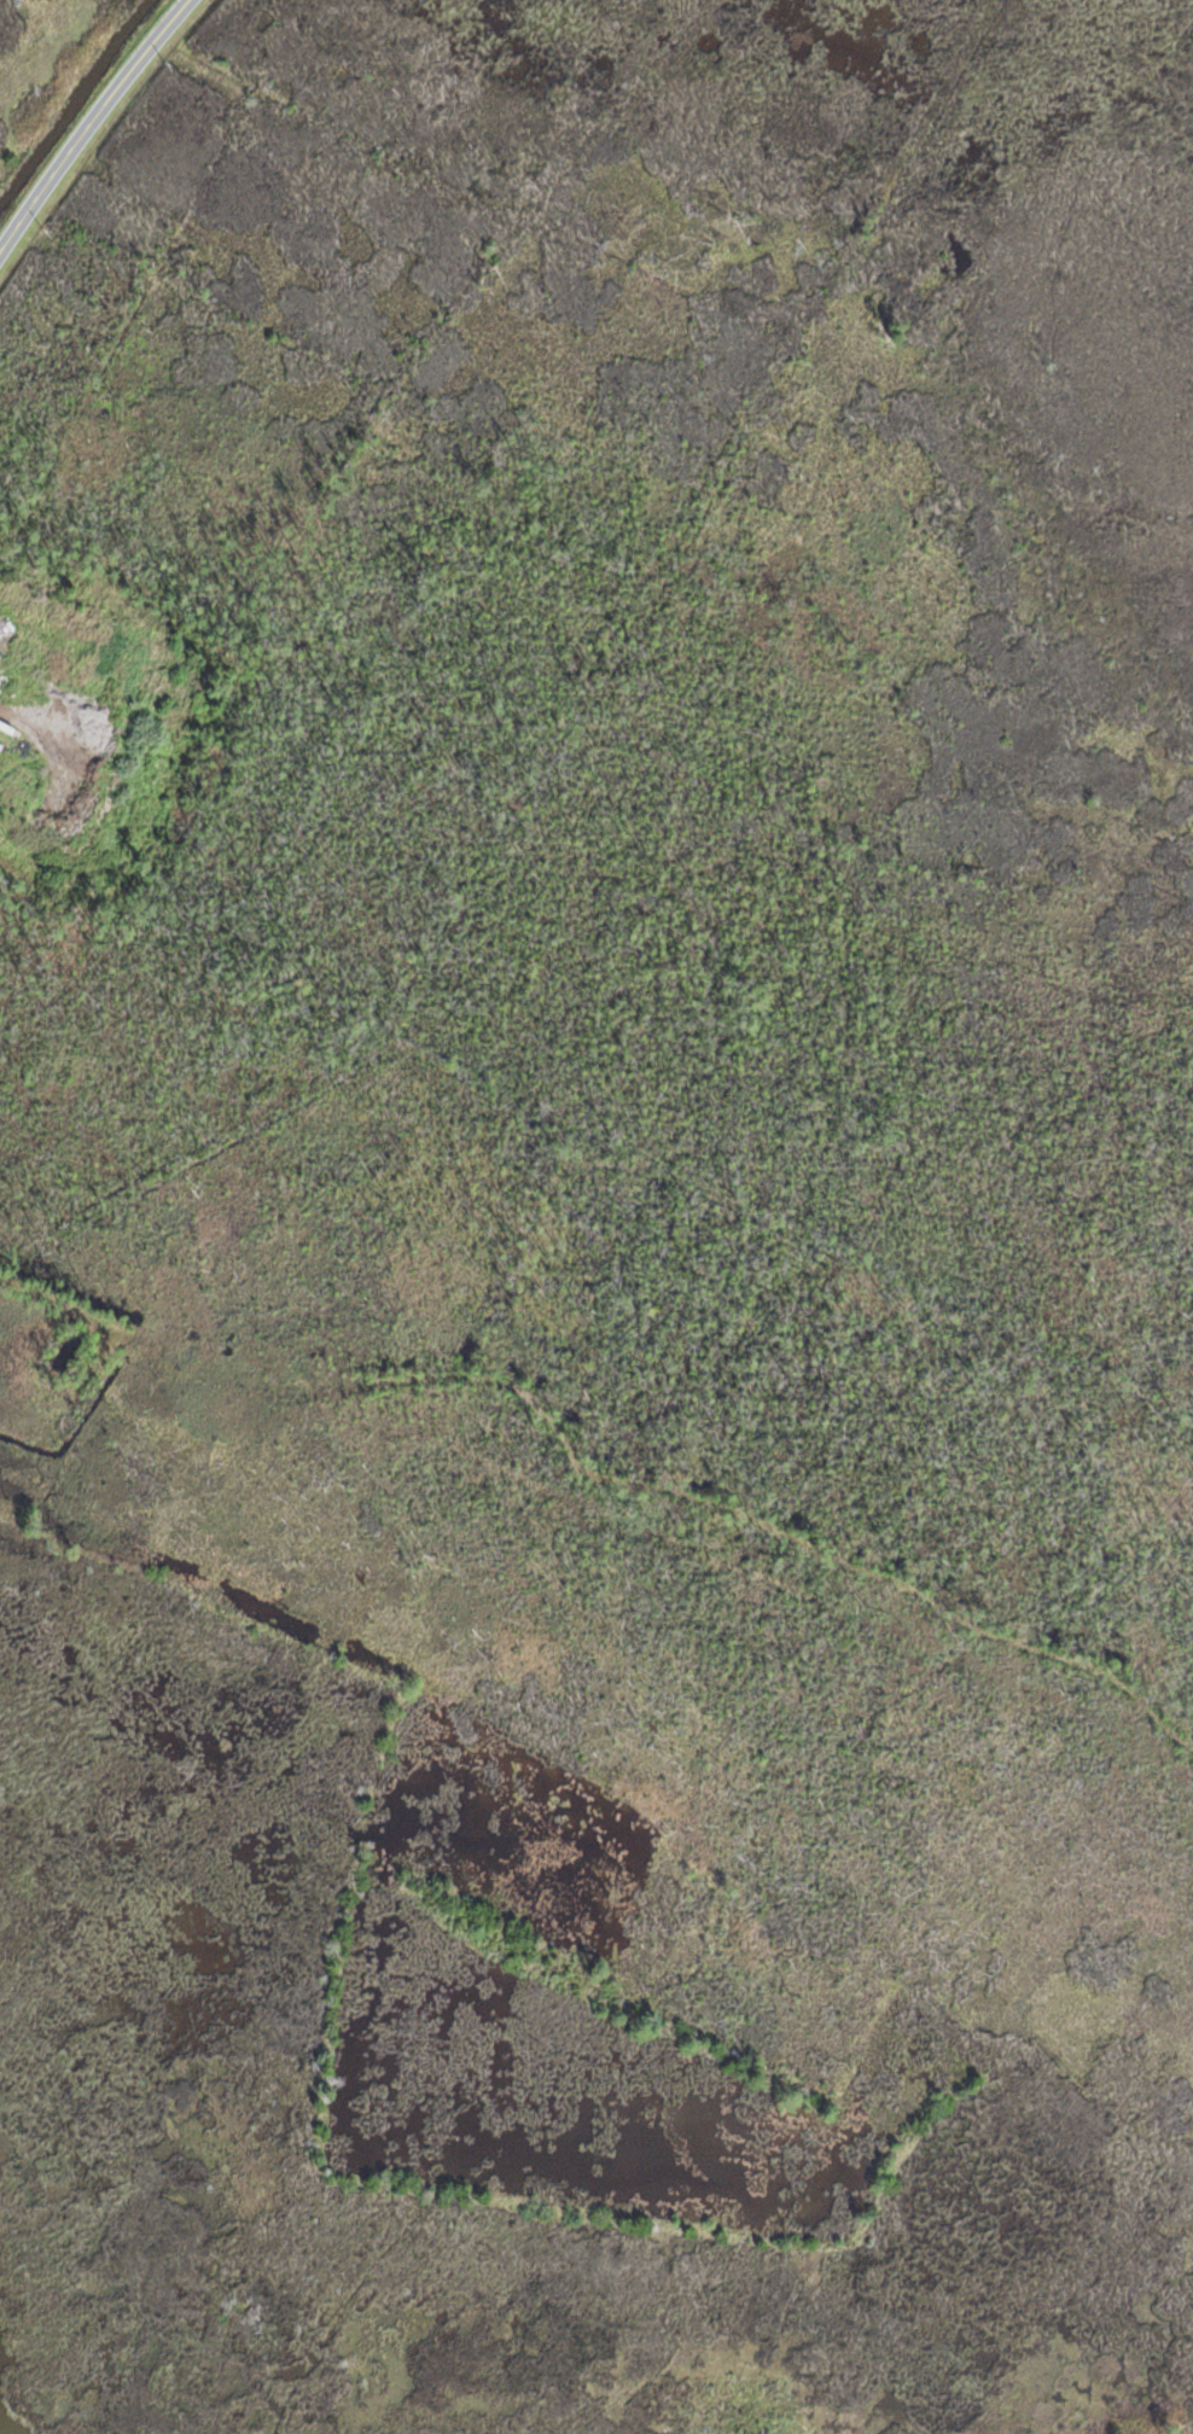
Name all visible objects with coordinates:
road: (88, 122)
road: (600, 1477)

